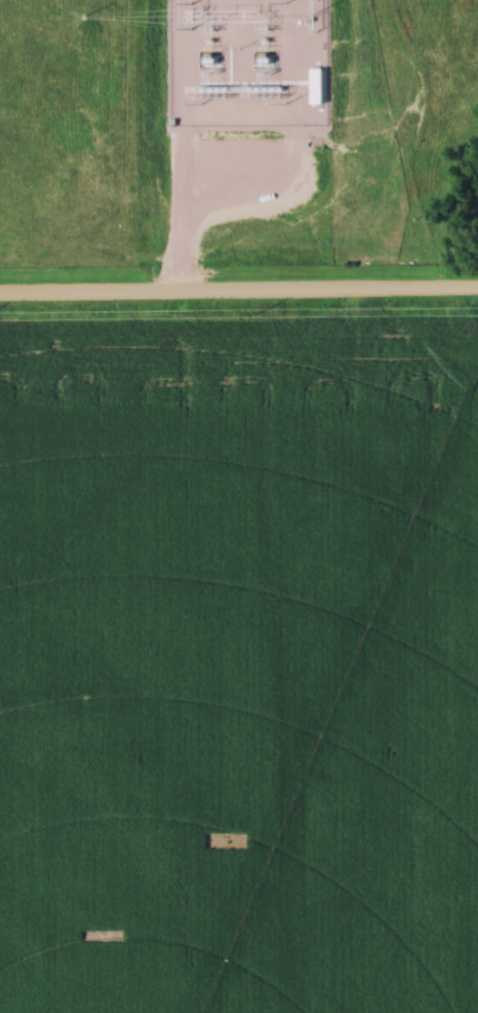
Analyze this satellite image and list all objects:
power substation: (248, 62)
road: (238, 293)
road: (354, 396)

